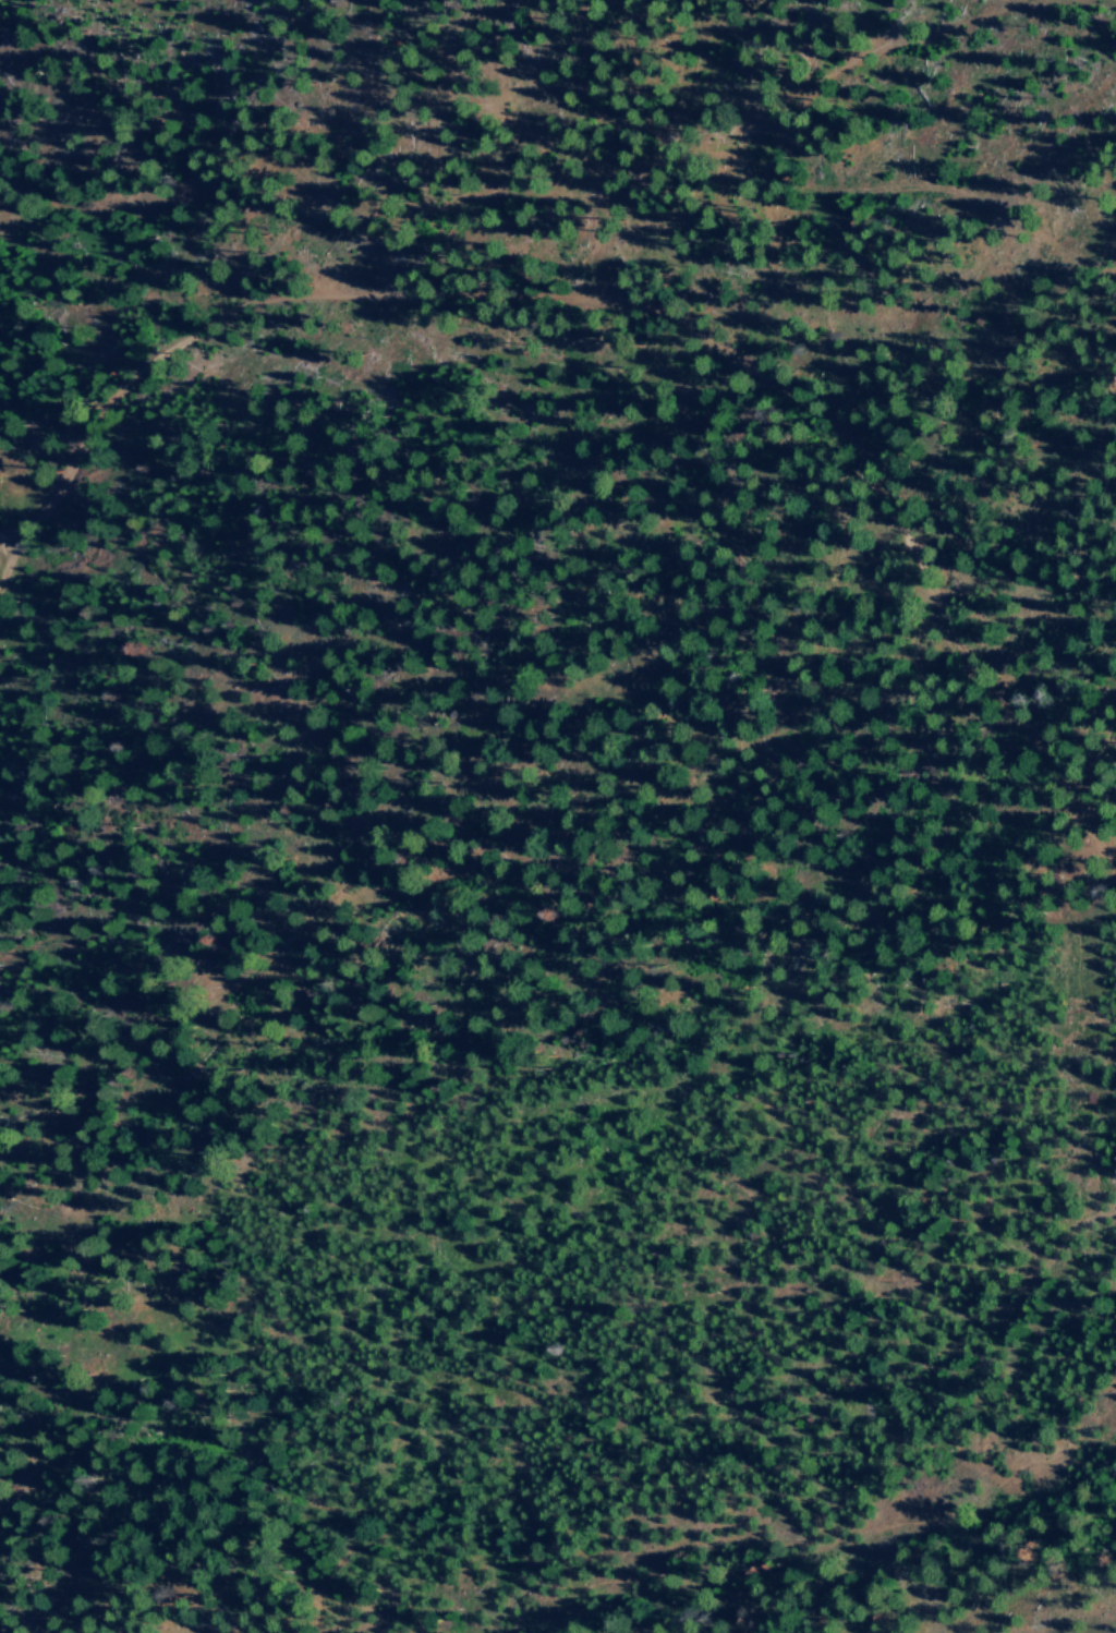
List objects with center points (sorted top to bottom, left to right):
road: (619, 342)

